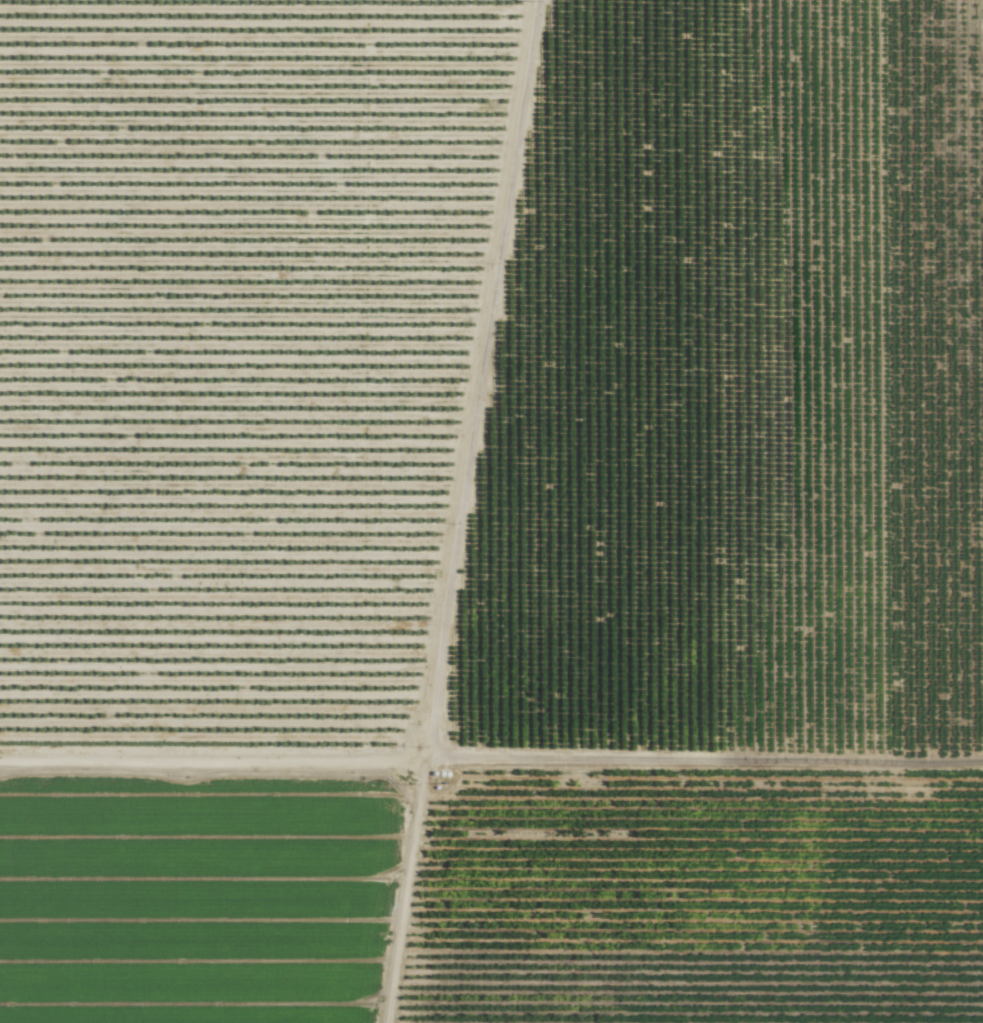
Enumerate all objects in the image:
road: (460, 511)
crop: (205, 889)

